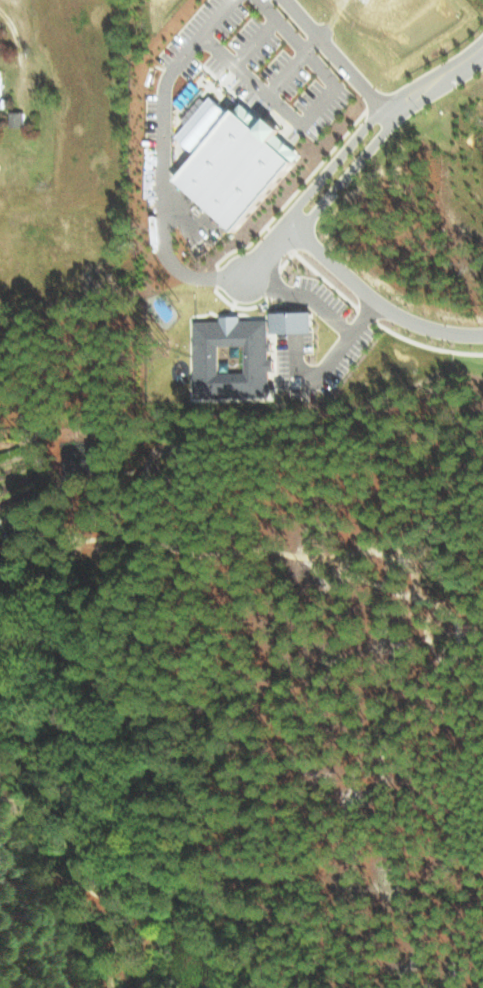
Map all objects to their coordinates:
road: (335, 52)
building: (1, 88)
road: (394, 110)
road: (375, 117)
building: (18, 118)
road: (379, 139)
building: (235, 159)
road: (162, 193)
road: (286, 221)
road: (375, 299)
building: (294, 321)
building: (234, 357)
road: (5, 561)
road: (149, 837)

